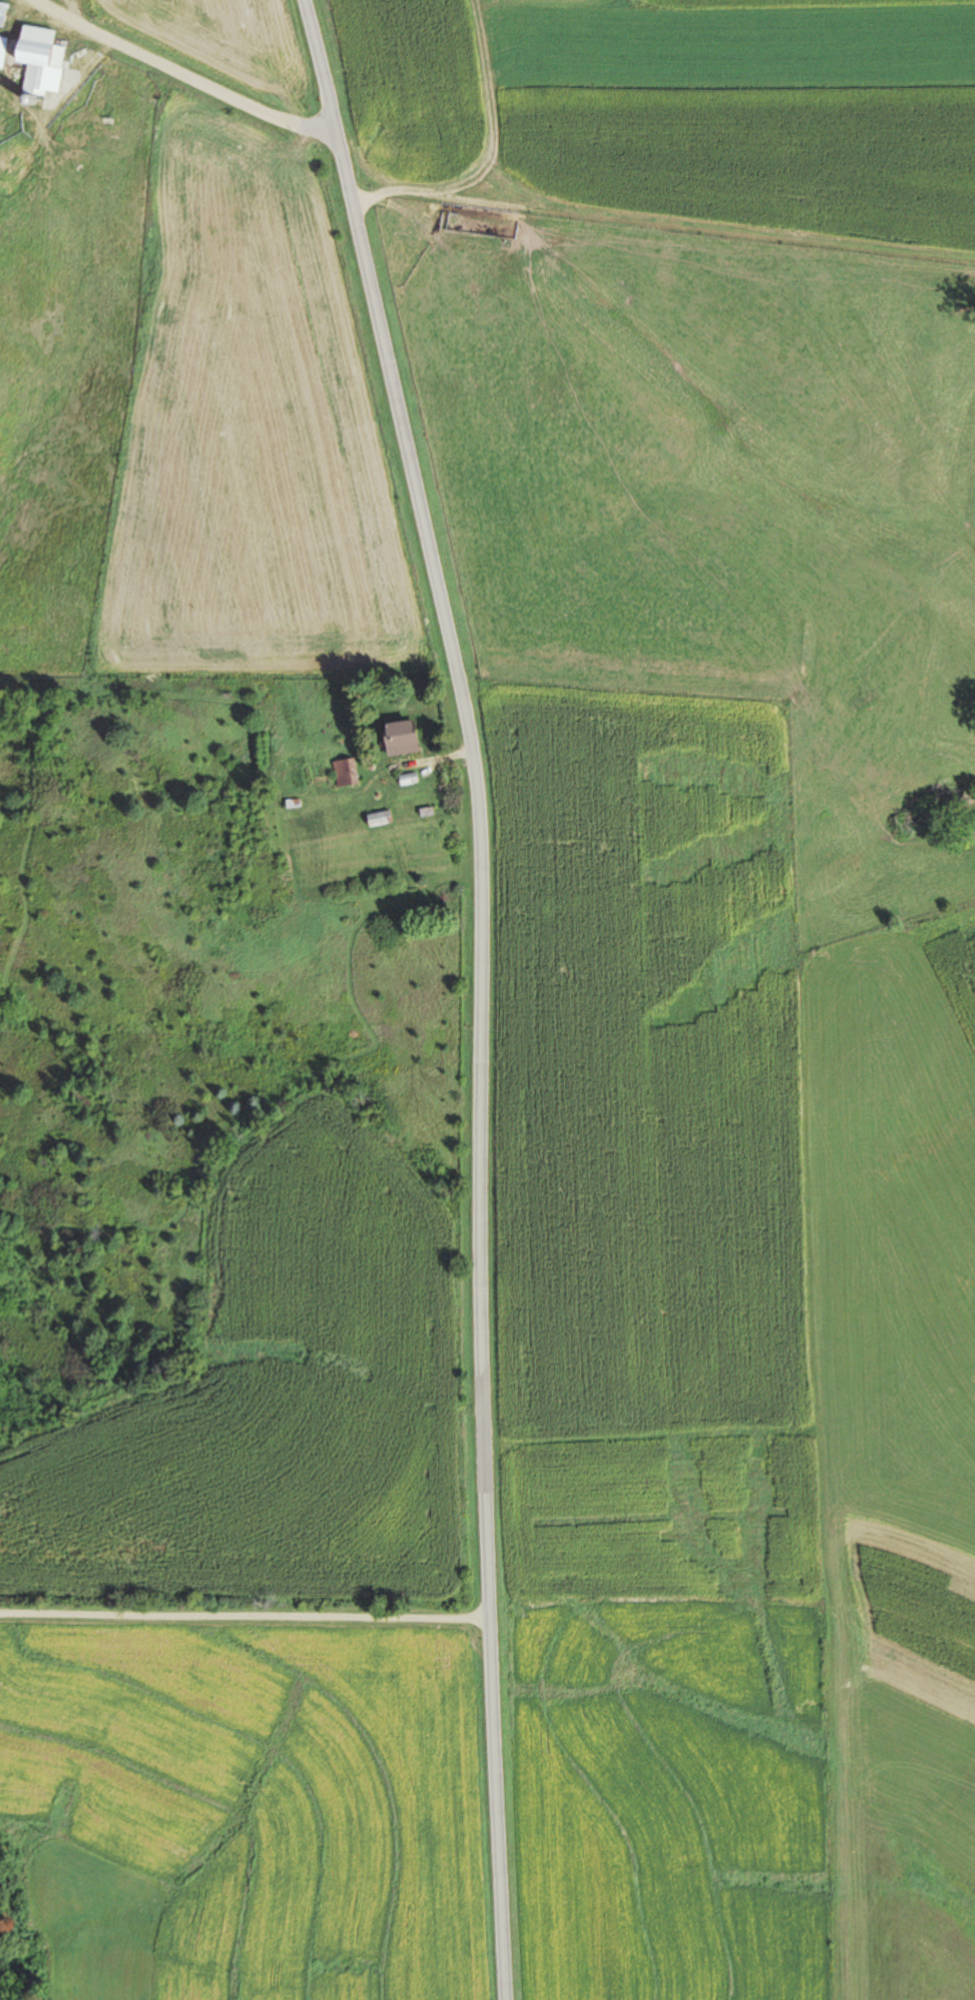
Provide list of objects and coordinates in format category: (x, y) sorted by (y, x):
building: (1, 12)
building: (1, 48)
building: (36, 58)
road: (186, 75)
road: (691, 668)
building: (397, 738)
building: (345, 772)
building: (290, 802)
building: (376, 818)
road: (452, 994)
road: (244, 1613)

